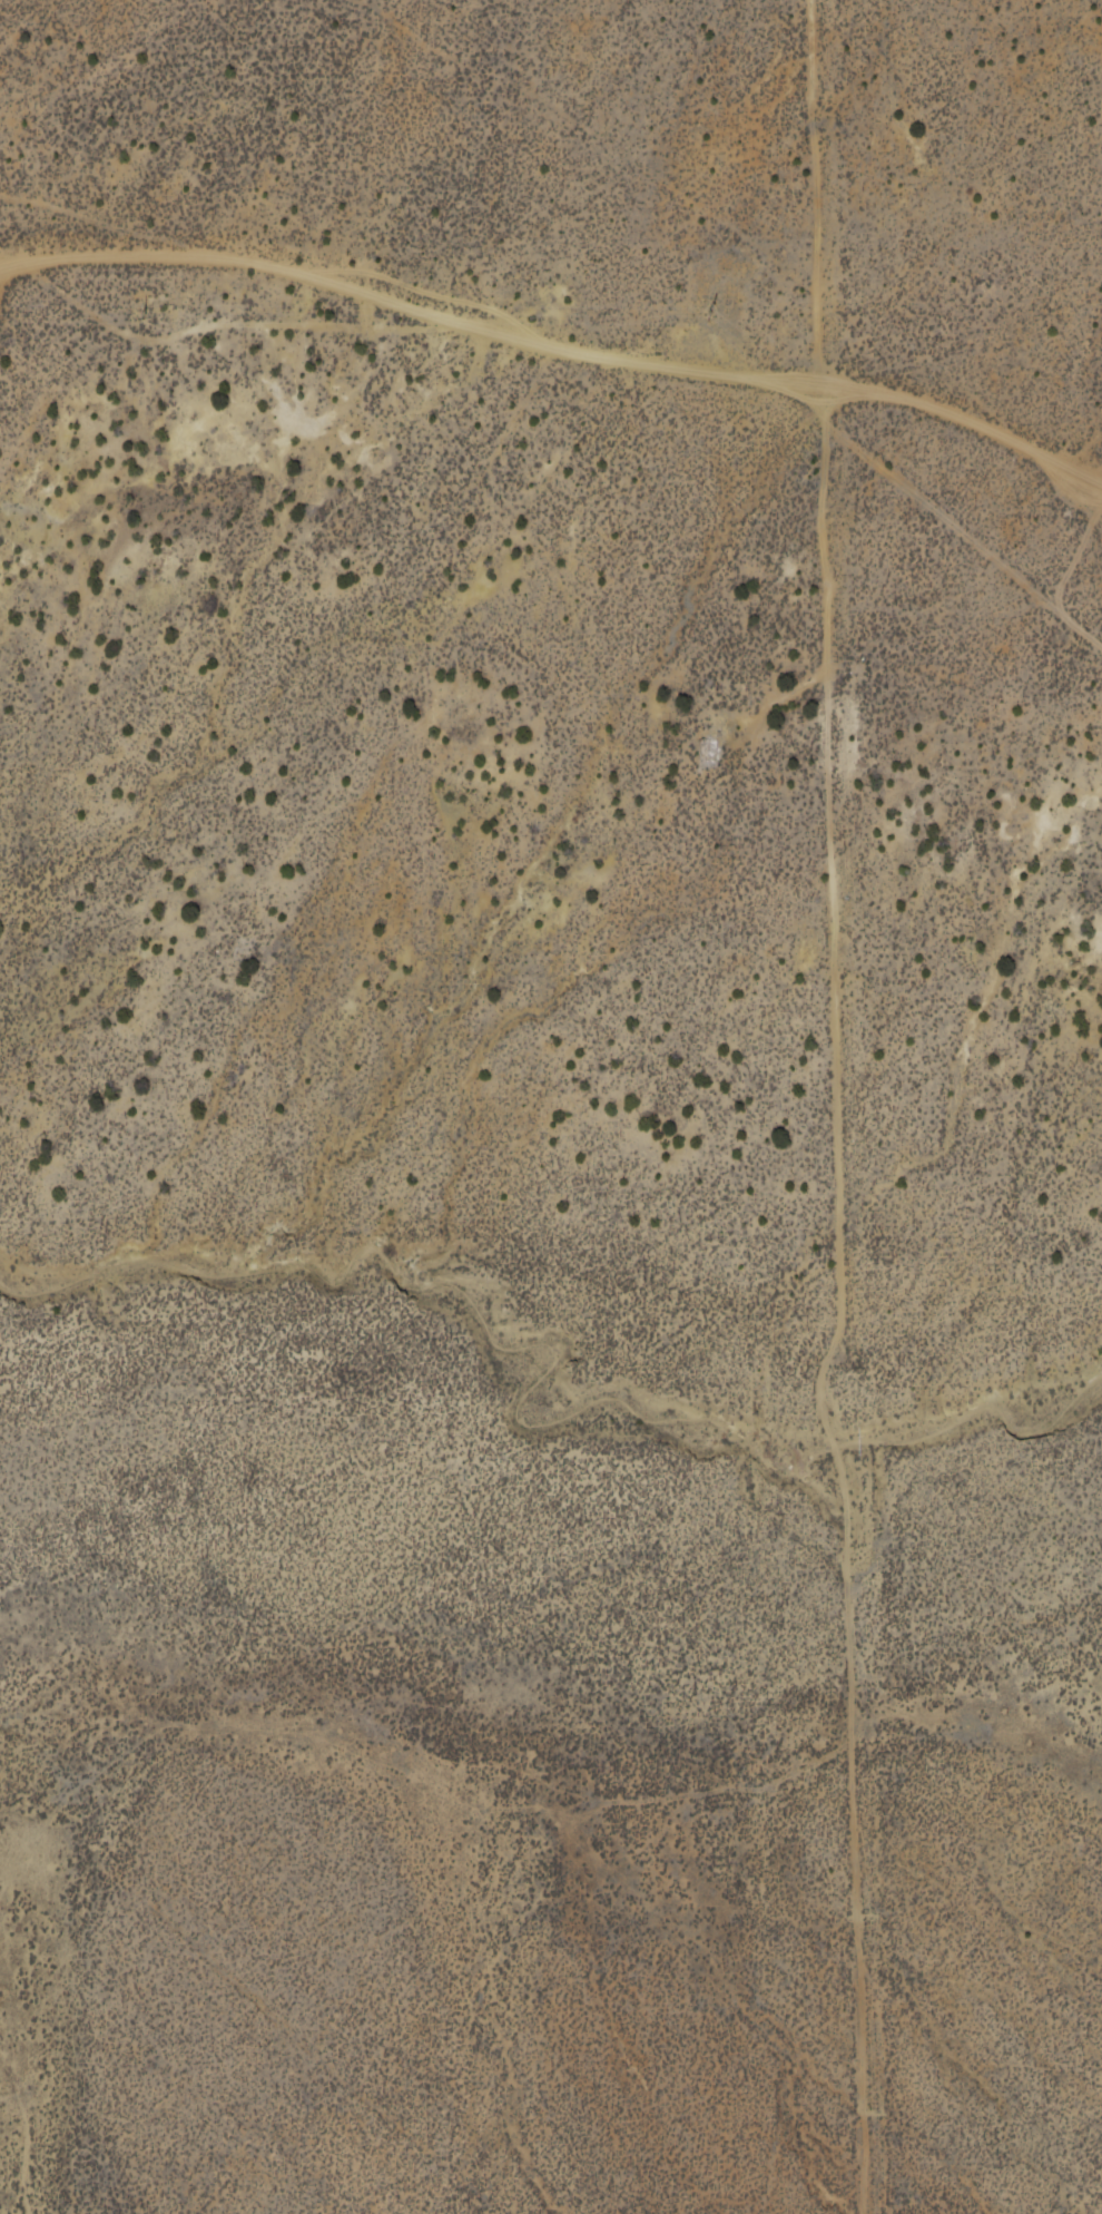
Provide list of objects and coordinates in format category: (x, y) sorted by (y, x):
power tower: (708, 313)
power tower: (140, 317)
road: (554, 350)

